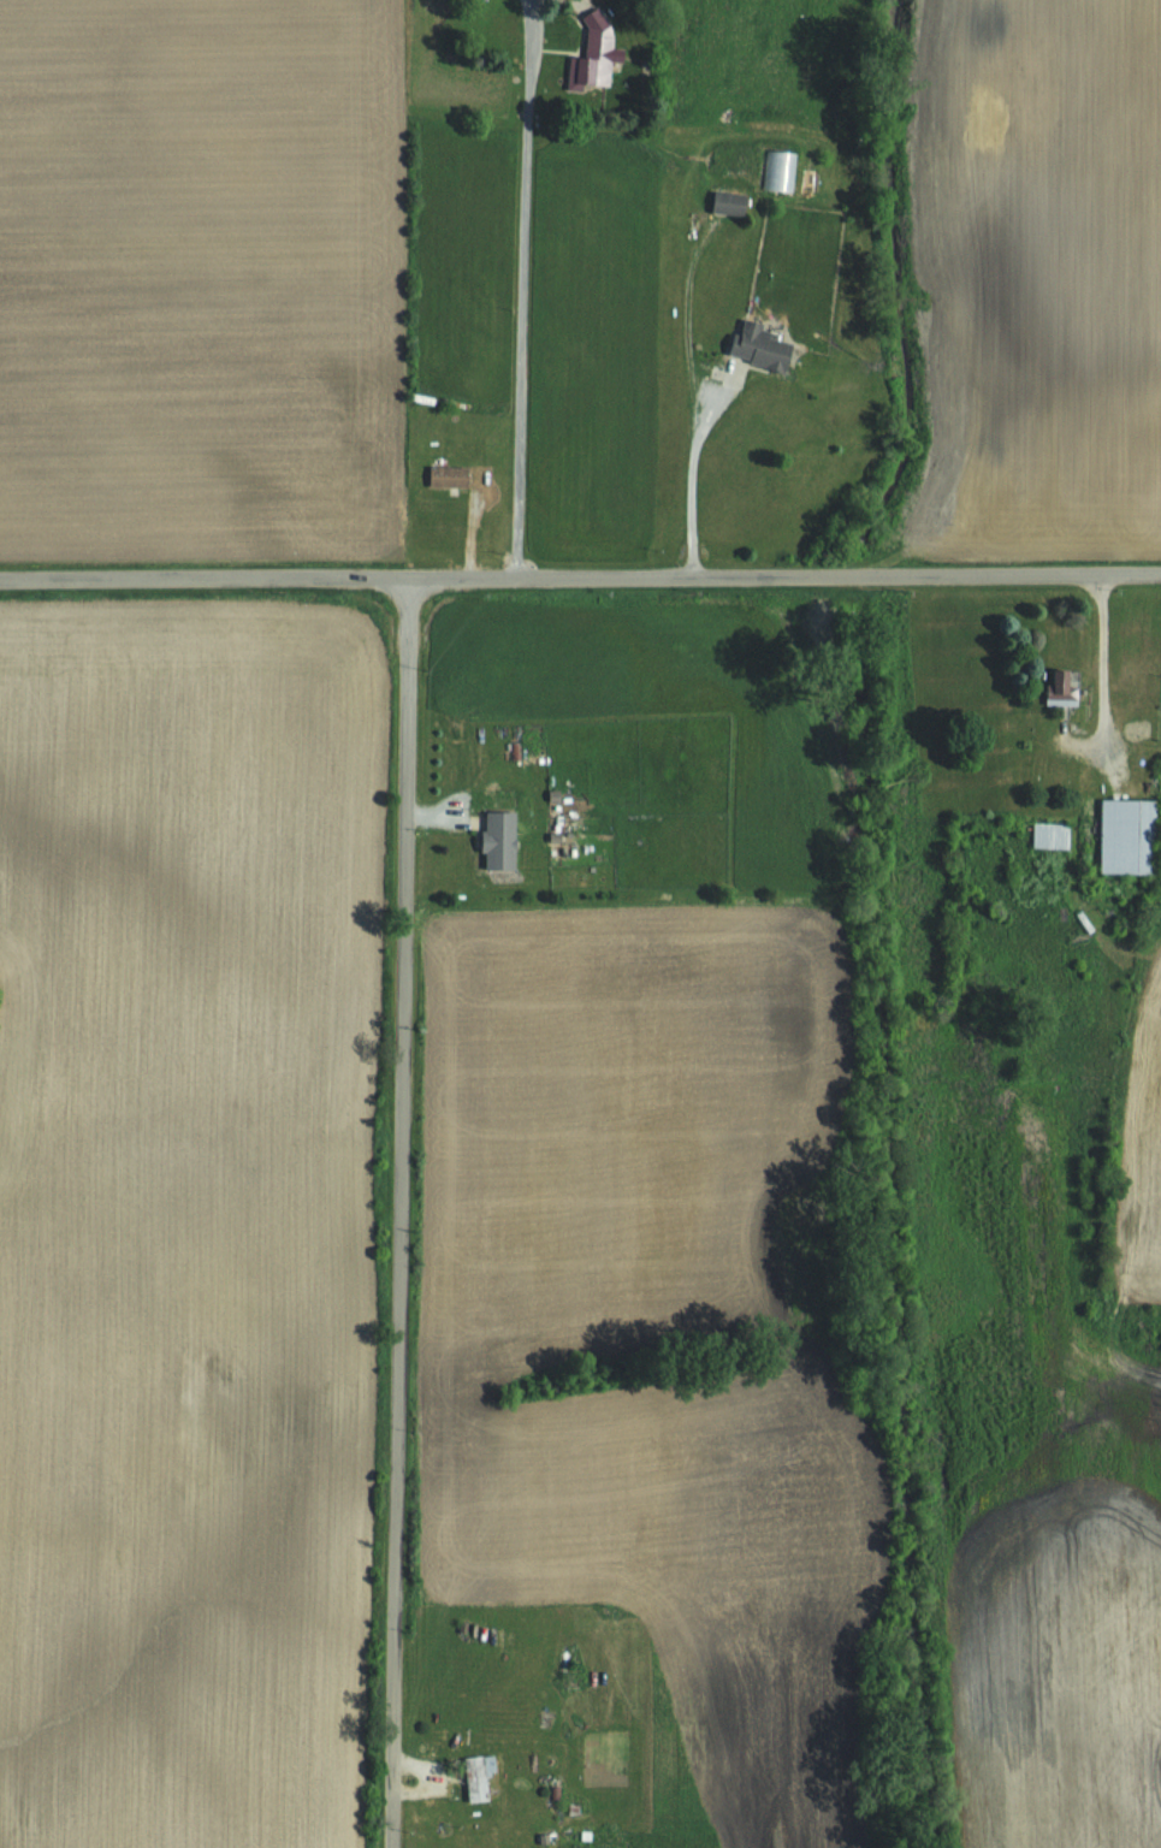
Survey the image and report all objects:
building: (600, 51)
building: (729, 201)
road: (521, 289)
building: (765, 346)
building: (450, 475)
road: (688, 479)
road: (580, 577)
road: (1102, 657)
building: (1066, 686)
building: (1131, 834)
building: (502, 839)
road: (399, 1213)
building: (481, 1775)

